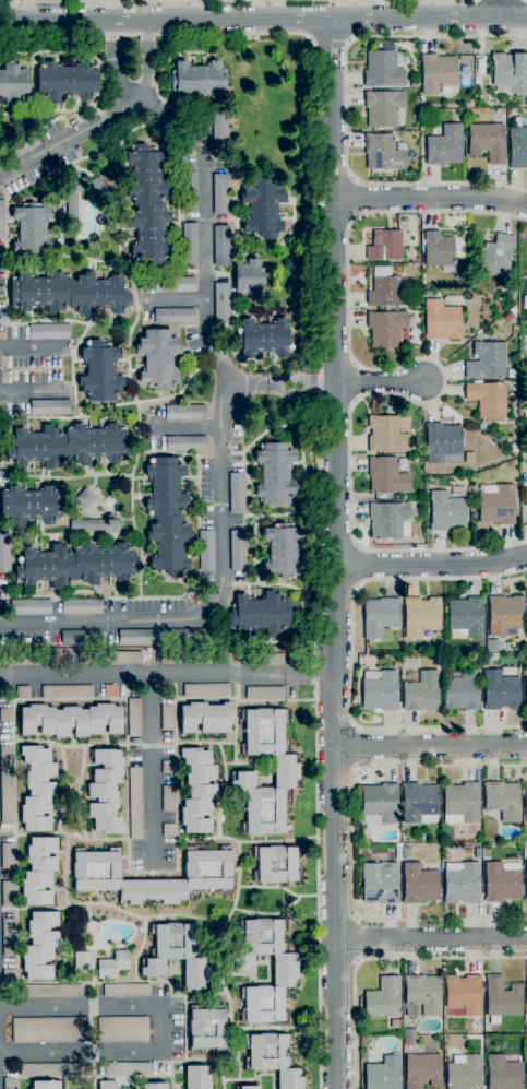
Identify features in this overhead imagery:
road: (175, 0)
road: (500, 8)
road: (263, 19)
road: (331, 47)
road: (74, 54)
road: (119, 63)
road: (147, 63)
building: (383, 70)
building: (438, 72)
building: (510, 72)
road: (158, 75)
building: (197, 80)
building: (477, 80)
road: (34, 82)
building: (67, 82)
building: (14, 84)
building: (415, 84)
road: (132, 106)
building: (384, 108)
road: (345, 109)
road: (68, 111)
building: (510, 111)
building: (219, 130)
building: (487, 142)
road: (55, 145)
building: (19, 146)
building: (444, 146)
building: (517, 147)
building: (77, 150)
building: (383, 153)
road: (83, 158)
road: (332, 174)
building: (97, 188)
building: (189, 192)
building: (220, 194)
road: (430, 198)
road: (357, 199)
building: (72, 201)
road: (59, 203)
building: (147, 204)
building: (263, 208)
road: (335, 216)
building: (2, 220)
building: (32, 230)
road: (116, 230)
building: (190, 244)
building: (220, 246)
building: (385, 246)
building: (526, 246)
road: (267, 250)
building: (438, 250)
building: (494, 257)
road: (159, 273)
building: (249, 279)
building: (173, 284)
building: (385, 292)
building: (507, 293)
building: (70, 294)
building: (524, 301)
building: (221, 303)
building: (175, 316)
building: (507, 318)
building: (441, 320)
road: (93, 324)
building: (385, 329)
building: (49, 332)
building: (263, 338)
road: (28, 347)
building: (158, 358)
building: (487, 360)
road: (245, 365)
building: (100, 372)
road: (444, 379)
road: (379, 382)
road: (253, 383)
road: (310, 383)
road: (220, 384)
road: (29, 390)
building: (487, 399)
building: (376, 405)
road: (75, 406)
building: (50, 407)
road: (320, 407)
building: (185, 412)
road: (136, 433)
building: (387, 434)
road: (257, 439)
building: (442, 441)
building: (185, 443)
building: (67, 446)
building: (514, 448)
building: (275, 474)
building: (386, 475)
road: (77, 477)
building: (525, 480)
road: (245, 484)
building: (237, 493)
building: (85, 498)
building: (496, 505)
building: (31, 506)
building: (446, 512)
road: (263, 514)
building: (167, 517)
building: (388, 520)
building: (95, 524)
road: (96, 535)
road: (338, 545)
building: (206, 551)
building: (237, 551)
building: (283, 551)
building: (4, 553)
road: (338, 554)
road: (310, 561)
road: (362, 564)
building: (75, 565)
road: (432, 565)
road: (254, 568)
road: (140, 576)
road: (279, 584)
road: (337, 591)
building: (81, 606)
building: (31, 607)
building: (260, 614)
building: (504, 615)
building: (380, 616)
building: (421, 616)
building: (466, 616)
road: (69, 618)
building: (137, 637)
building: (189, 637)
building: (81, 638)
building: (172, 658)
building: (216, 658)
road: (349, 658)
building: (110, 659)
building: (21, 660)
building: (264, 660)
road: (155, 676)
road: (323, 676)
road: (237, 687)
building: (206, 690)
building: (380, 690)
building: (67, 691)
building: (111, 691)
building: (462, 691)
building: (500, 691)
building: (526, 691)
building: (23, 693)
building: (264, 693)
building: (421, 693)
road: (152, 698)
road: (276, 700)
building: (5, 715)
building: (134, 718)
building: (167, 718)
building: (205, 718)
building: (70, 720)
road: (333, 722)
road: (227, 744)
road: (430, 747)
road: (251, 766)
building: (167, 767)
road: (335, 768)
road: (153, 770)
building: (286, 776)
building: (5, 784)
building: (37, 789)
building: (197, 791)
building: (106, 792)
road: (76, 793)
building: (168, 798)
building: (503, 800)
building: (460, 803)
building: (135, 804)
building: (380, 804)
building: (419, 804)
building: (525, 804)
road: (218, 819)
building: (168, 830)
road: (109, 839)
road: (286, 841)
road: (351, 843)
building: (478, 852)
building: (397, 854)
building: (8, 856)
building: (276, 864)
building: (96, 871)
building: (39, 872)
road: (62, 876)
building: (526, 880)
building: (501, 881)
building: (462, 883)
building: (380, 884)
building: (419, 884)
road: (270, 887)
building: (8, 895)
road: (113, 907)
road: (285, 910)
road: (337, 921)
building: (9, 937)
road: (431, 940)
building: (40, 946)
road: (119, 949)
building: (177, 956)
road: (378, 958)
road: (338, 959)
building: (82, 961)
road: (134, 962)
building: (112, 964)
building: (285, 971)
road: (248, 976)
building: (9, 978)
building: (52, 991)
building: (127, 991)
building: (526, 994)
building: (422, 995)
building: (463, 995)
road: (197, 997)
building: (502, 998)
building: (383, 999)
road: (284, 1028)
building: (207, 1029)
building: (47, 1030)
building: (123, 1030)
road: (172, 1030)
building: (408, 1032)
building: (408, 1041)
road: (0, 1050)
building: (273, 1058)
road: (203, 1061)
building: (51, 1069)
building: (127, 1069)
road: (139, 1070)
building: (422, 1070)
building: (526, 1070)
road: (67, 1072)
building: (464, 1073)
building: (383, 1074)
building: (503, 1074)
building: (197, 1077)
building: (10, 1084)
building: (44, 1085)
building: (107, 1085)
building: (154, 1086)
building: (247, 1087)

